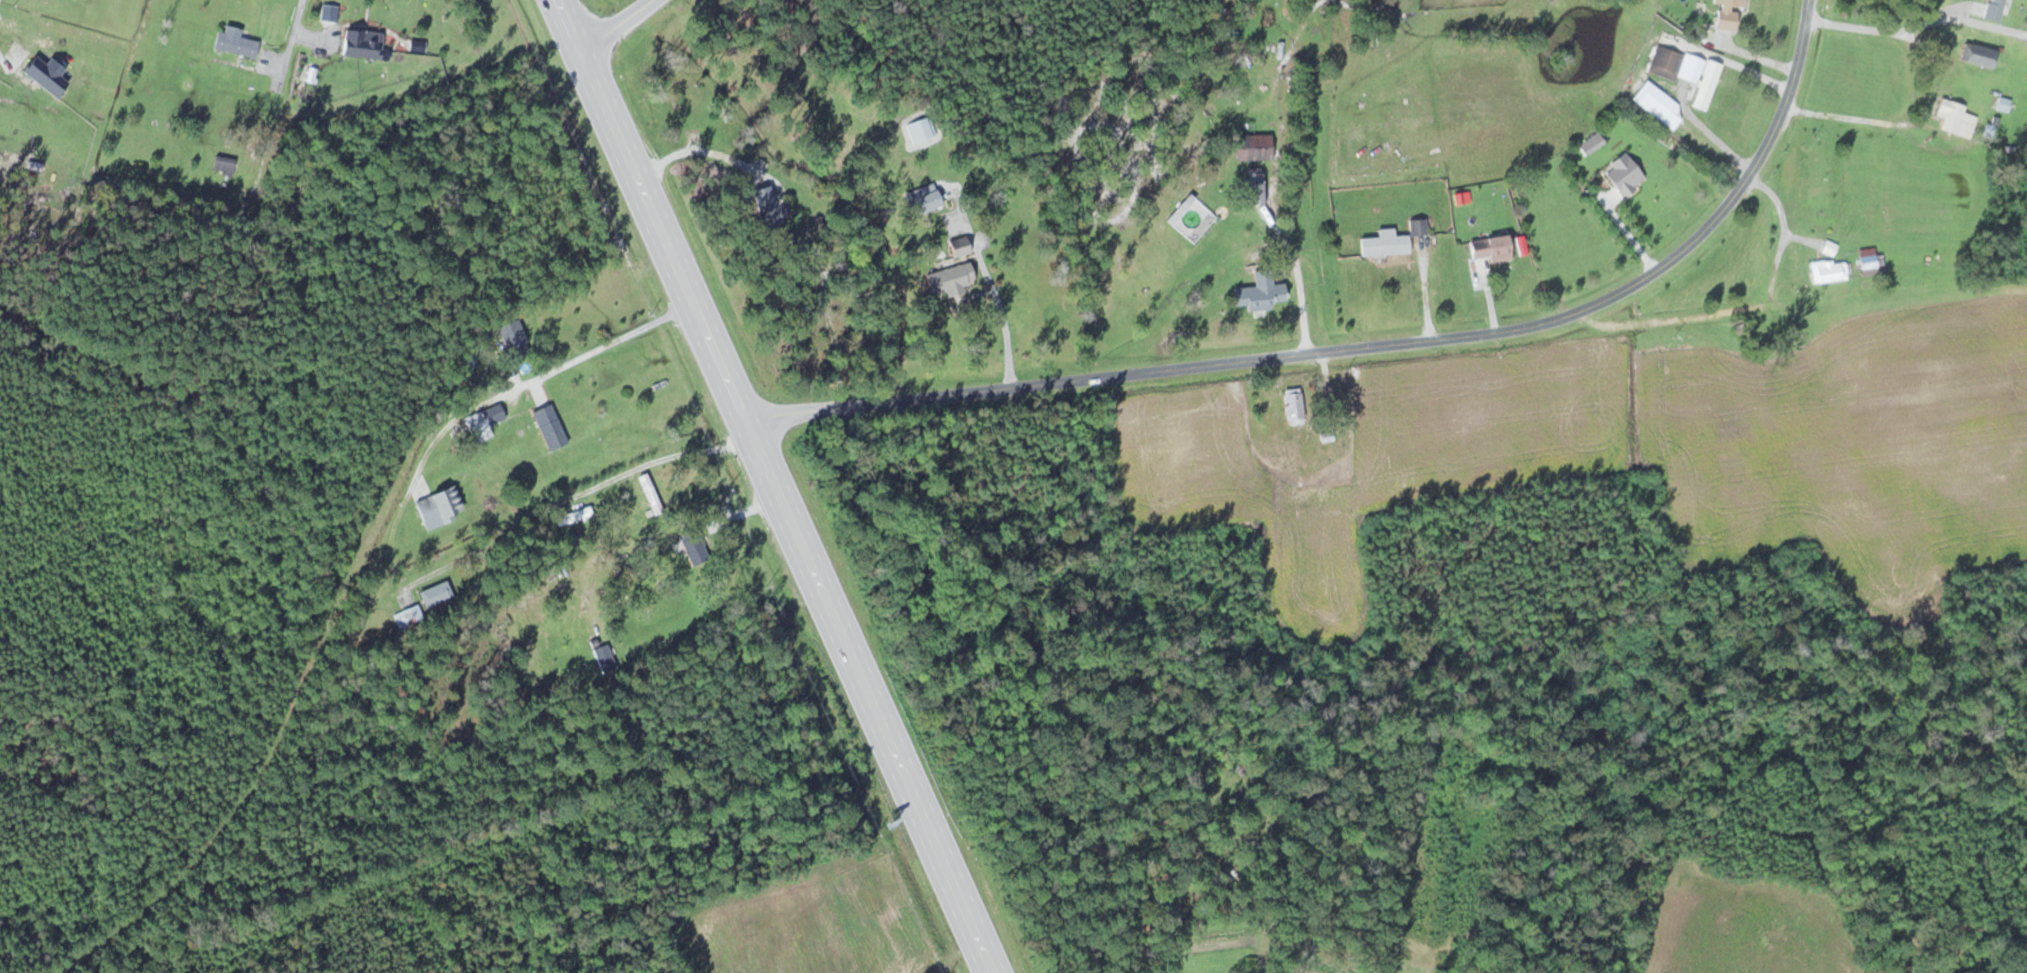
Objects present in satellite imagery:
building: (1994, 9)
building: (1725, 13)
road: (571, 25)
road: (617, 25)
building: (234, 42)
building: (359, 43)
building: (1978, 54)
building: (1675, 65)
building: (1705, 84)
road: (1780, 113)
building: (1954, 117)
building: (919, 128)
building: (1590, 143)
building: (1251, 146)
building: (222, 164)
building: (1623, 174)
building: (1254, 191)
building: (921, 199)
building: (766, 204)
building: (1417, 226)
building: (1383, 243)
building: (957, 246)
building: (1489, 248)
building: (1868, 261)
building: (1827, 271)
building: (946, 279)
building: (1257, 293)
building: (510, 335)
road: (1251, 362)
building: (1292, 406)
building: (482, 423)
building: (548, 426)
building: (649, 493)
building: (438, 506)
road: (789, 511)
building: (688, 547)
building: (434, 593)
road: (353, 606)
building: (407, 618)
building: (603, 657)
building: (878, 949)

